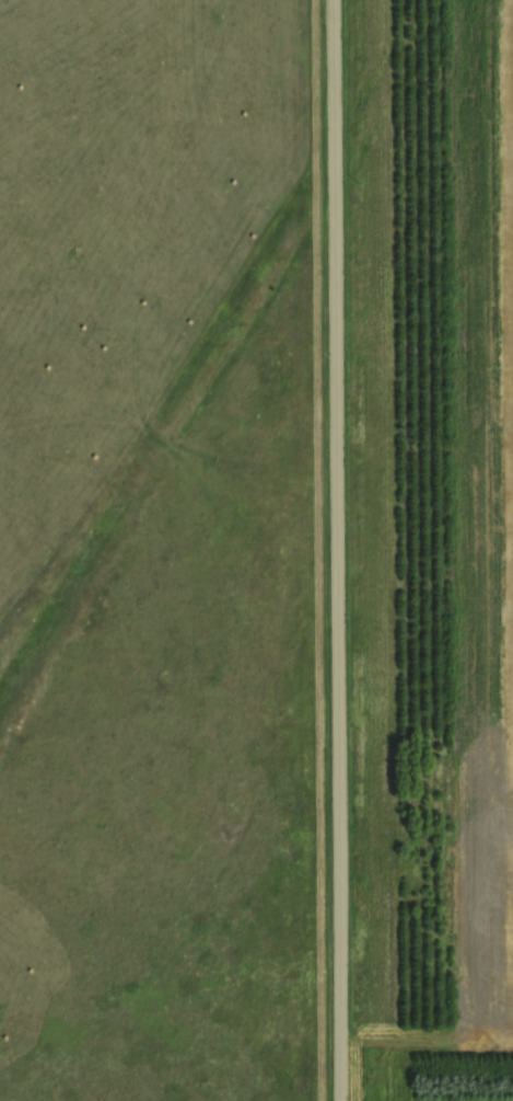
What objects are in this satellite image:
road: (336, 550)

